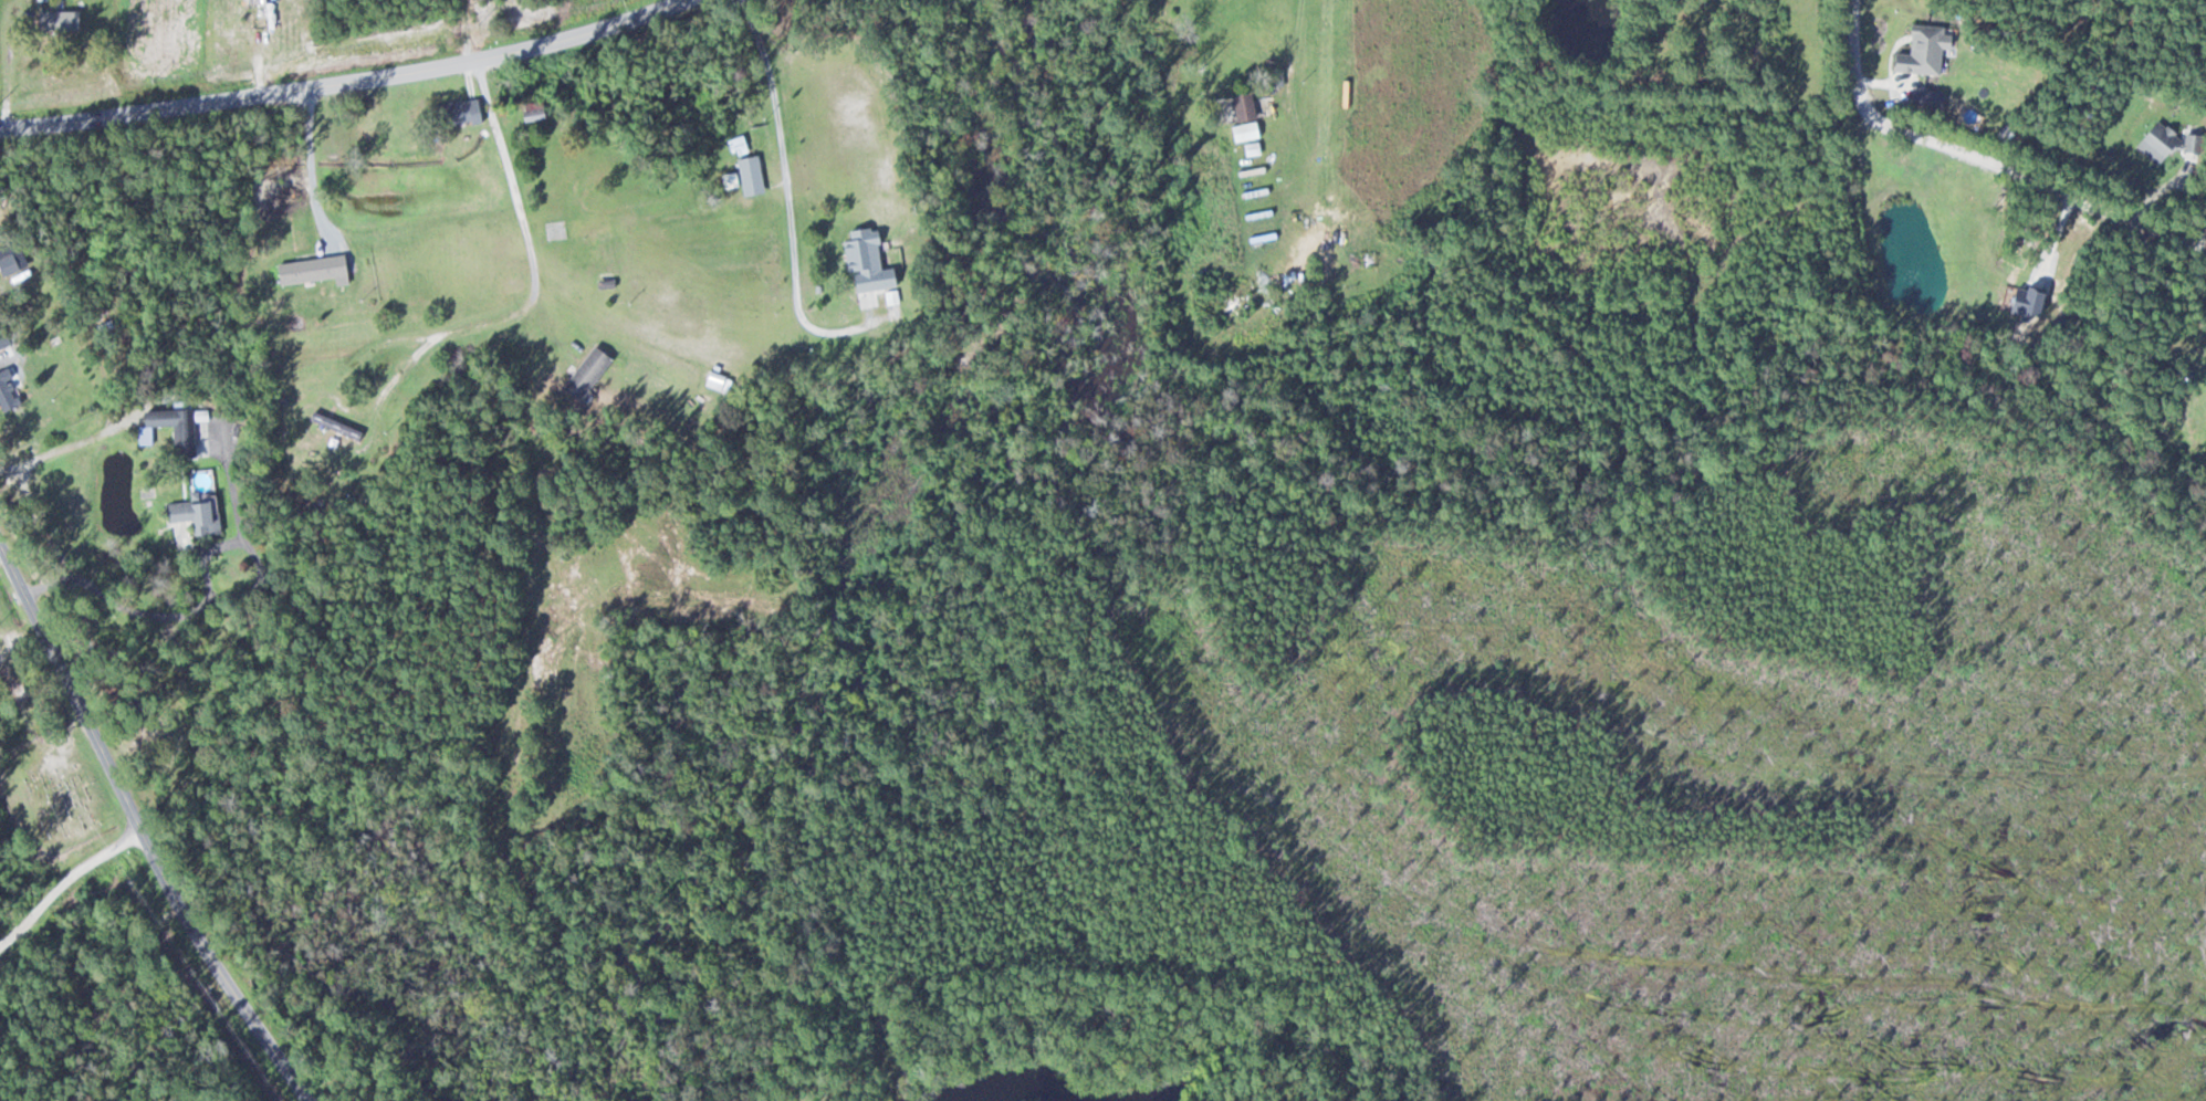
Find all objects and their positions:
building: (252, 6)
building: (67, 25)
road: (451, 32)
road: (1808, 60)
road: (713, 76)
road: (355, 81)
building: (1241, 105)
building: (532, 111)
building: (454, 113)
building: (1243, 130)
road: (498, 168)
building: (749, 176)
building: (586, 228)
building: (7, 260)
building: (865, 260)
building: (309, 269)
building: (103, 326)
building: (8, 333)
building: (585, 373)
building: (6, 395)
building: (190, 430)
building: (144, 436)
building: (192, 513)
road: (139, 829)
road: (61, 873)

